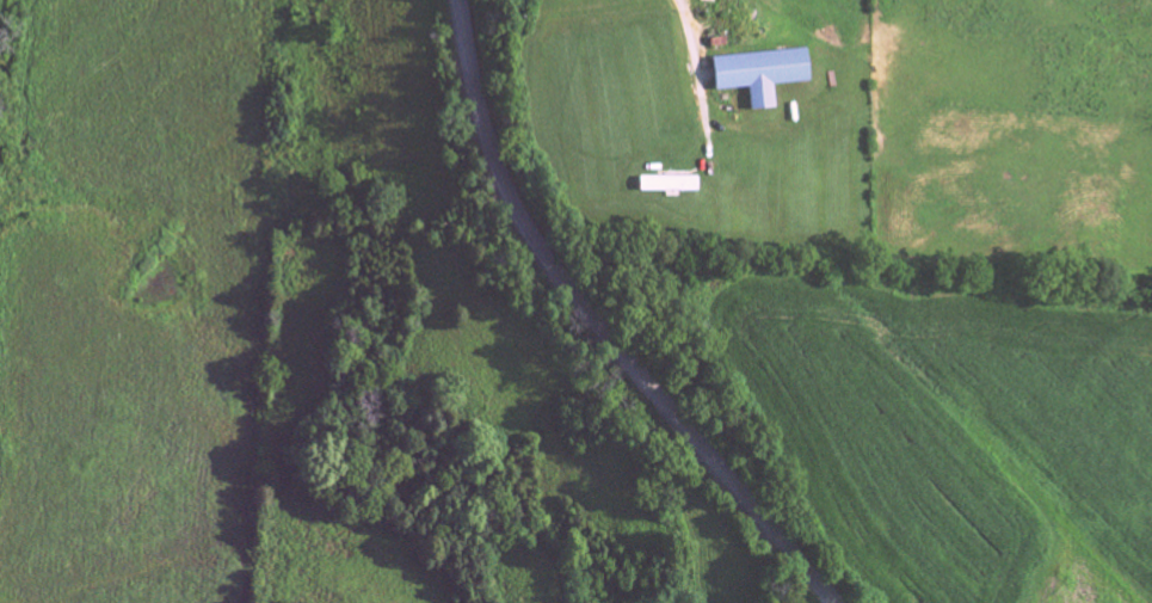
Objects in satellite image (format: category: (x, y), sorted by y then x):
road: (682, 26)
building: (756, 76)
road: (597, 328)
road: (832, 602)

